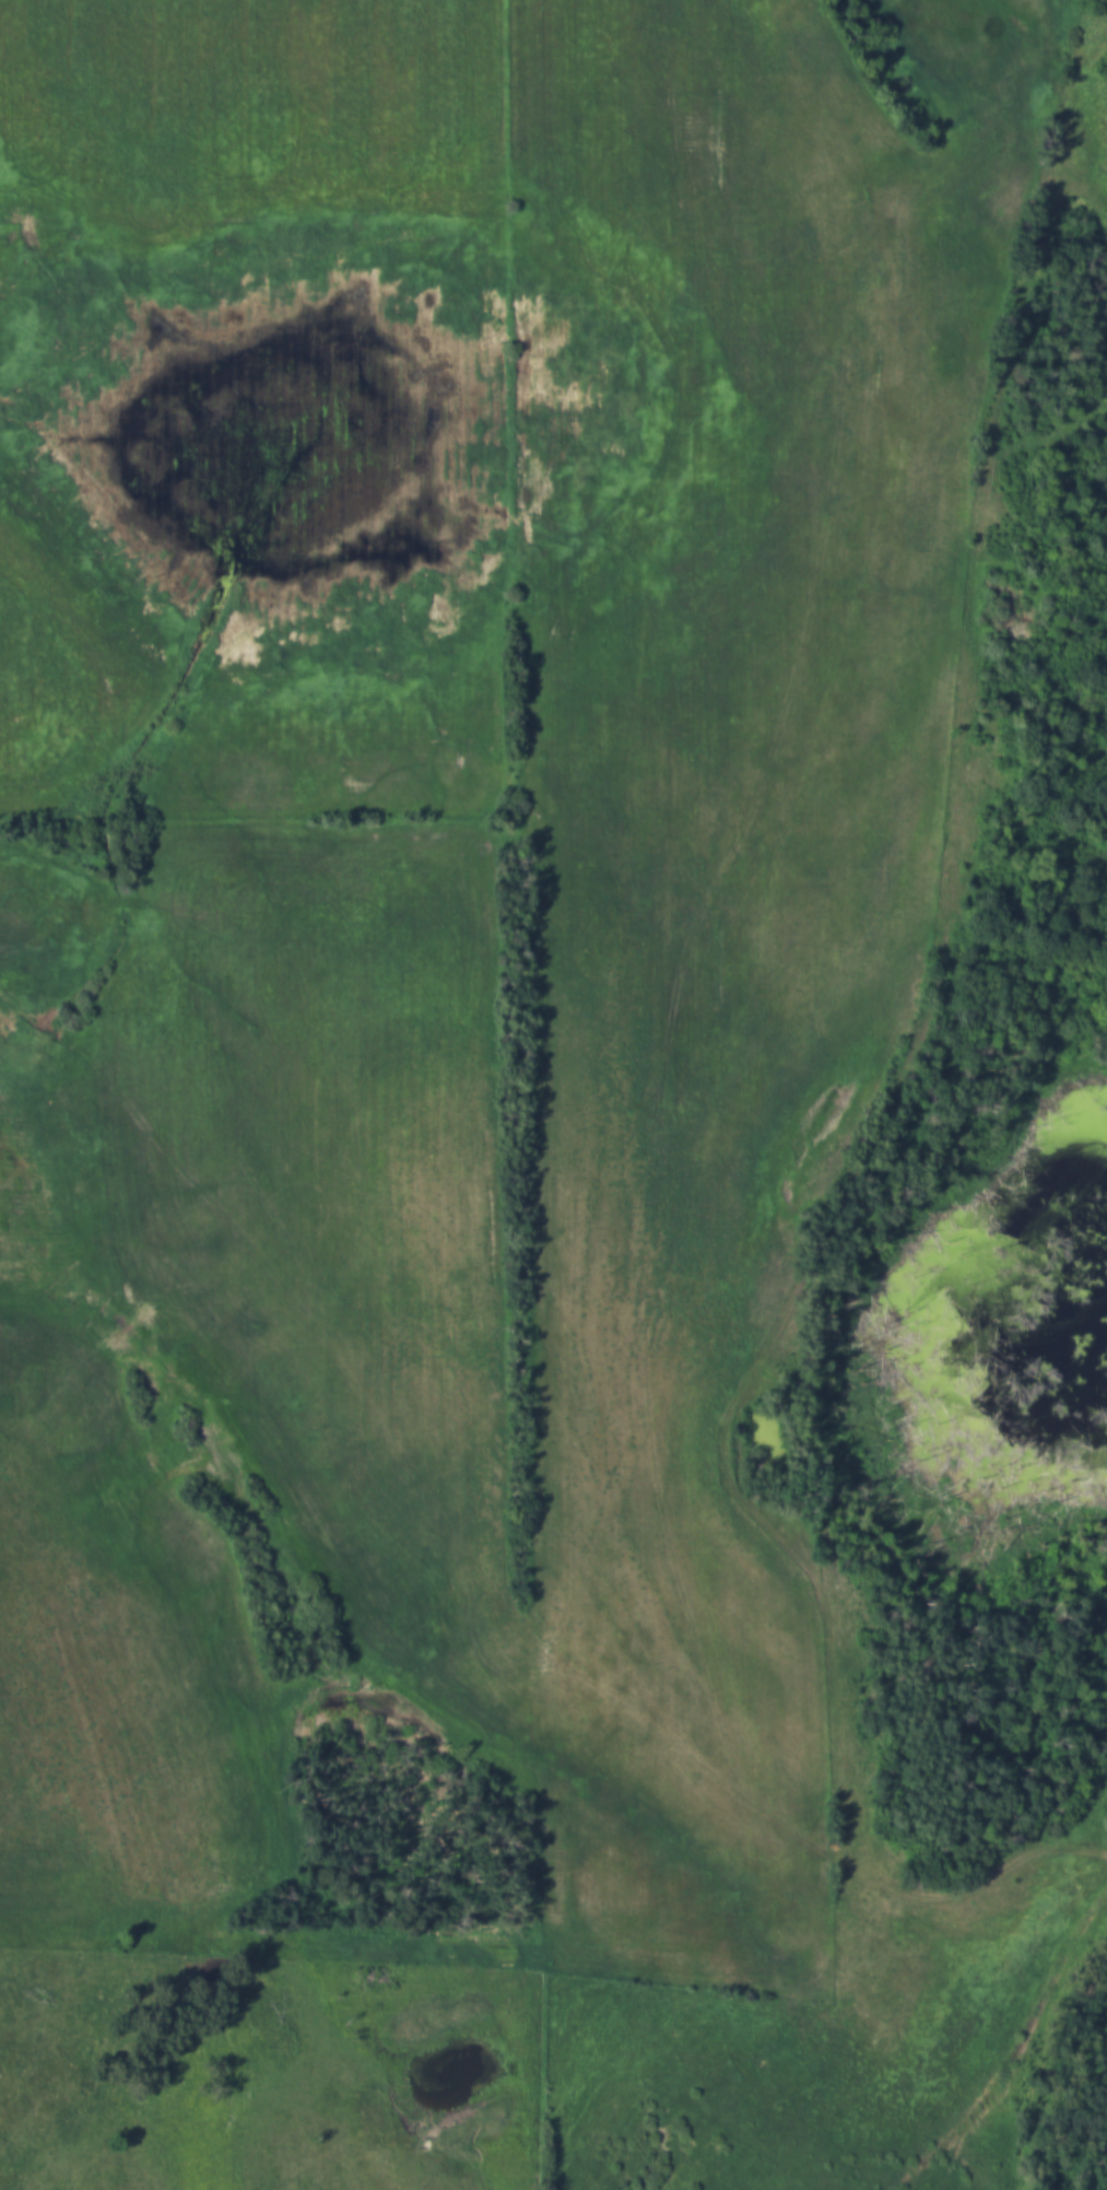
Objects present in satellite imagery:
road: (967, 1882)

